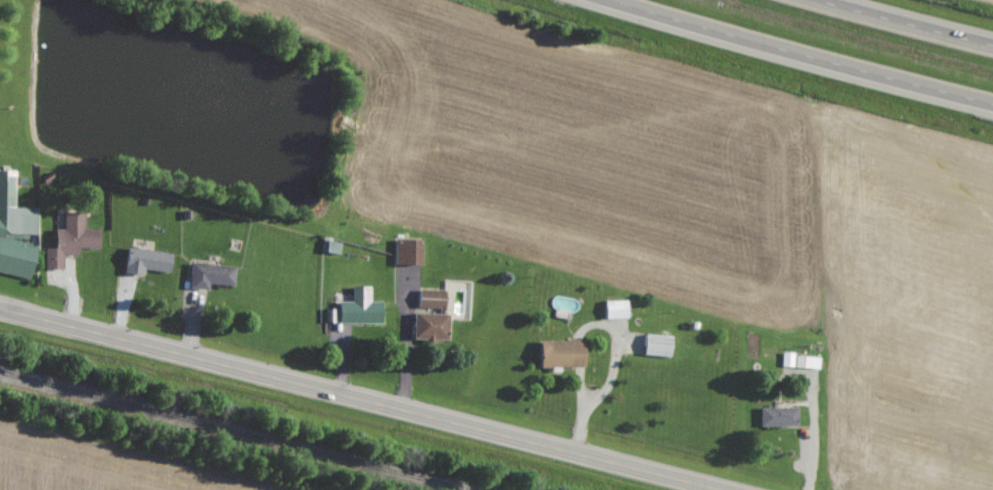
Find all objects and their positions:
road: (901, 24)
road: (794, 60)
building: (16, 229)
building: (73, 240)
building: (332, 247)
building: (410, 252)
building: (150, 261)
building: (212, 275)
building: (434, 299)
building: (362, 308)
building: (620, 310)
building: (434, 326)
building: (660, 345)
building: (566, 354)
road: (407, 359)
road: (353, 400)
building: (780, 417)
railway: (229, 431)
road: (812, 449)

